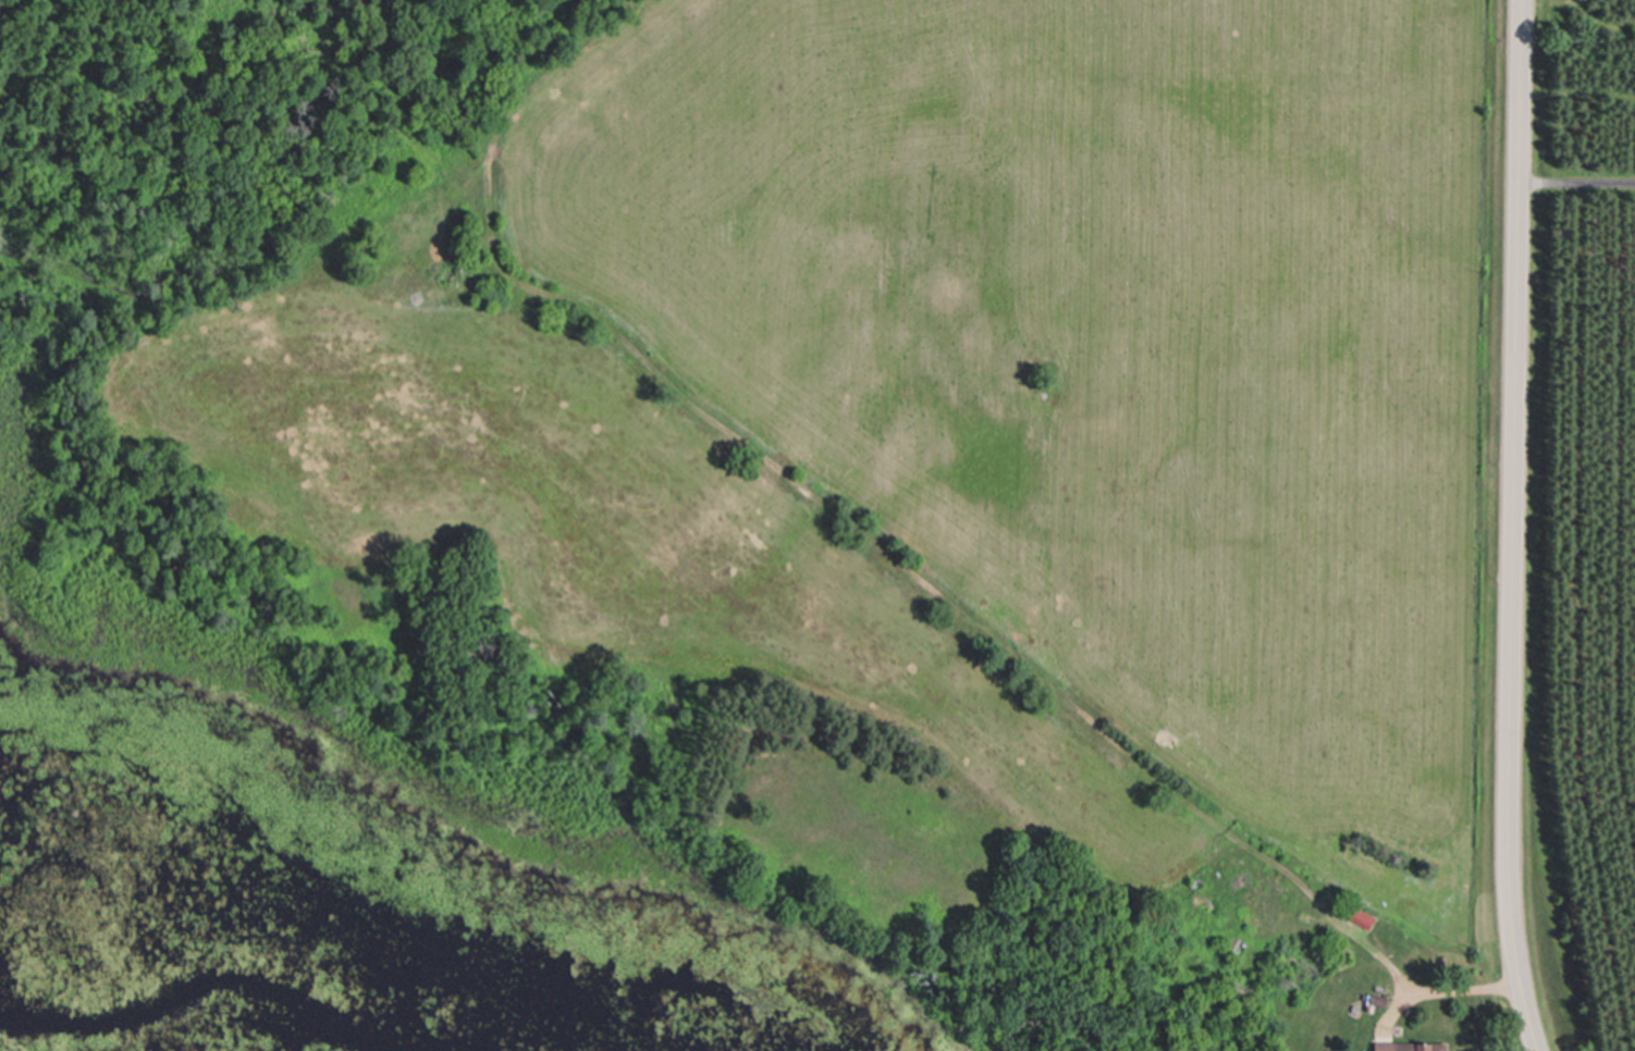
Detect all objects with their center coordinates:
road: (1575, 181)
road: (1511, 527)
building: (1360, 916)
road: (1440, 991)
building: (1406, 1047)

